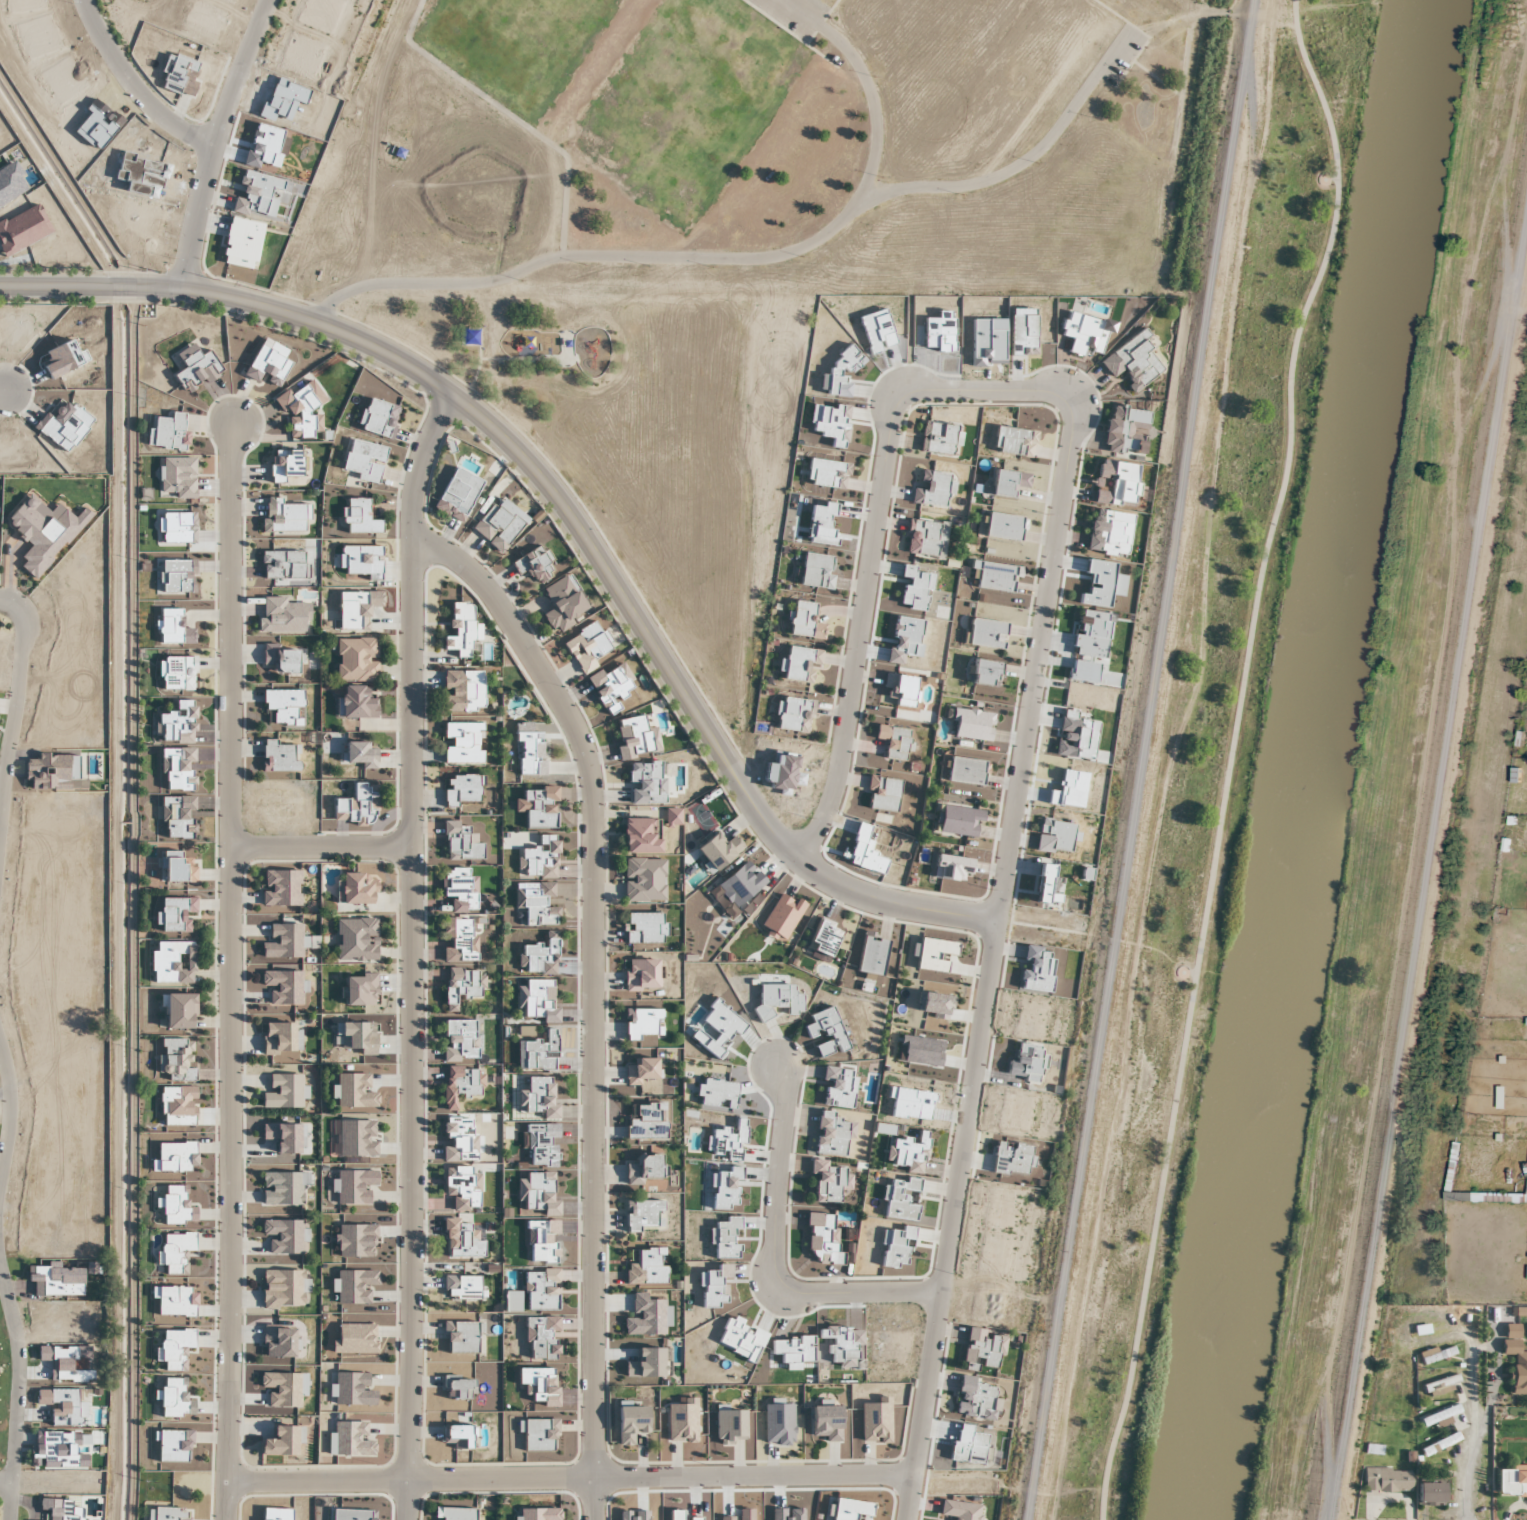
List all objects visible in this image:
parking lot: (1117, 58)
road: (1184, 64)
road: (237, 74)
road: (125, 89)
building: (398, 154)
road: (1021, 162)
road: (188, 218)
park: (733, 240)
road: (705, 257)
building: (469, 337)
road: (975, 388)
road: (3, 389)
road: (565, 506)
building: (562, 604)
road: (857, 632)
building: (587, 648)
building: (356, 660)
building: (462, 692)
road: (15, 702)
building: (357, 704)
building: (463, 743)
road: (1229, 756)
road: (1140, 760)
river: (1313, 760)
building: (462, 790)
building: (641, 837)
road: (322, 847)
road: (1425, 873)
building: (644, 881)
building: (355, 890)
road: (128, 903)
building: (644, 929)
building: (355, 940)
road: (411, 954)
road: (992, 955)
building: (173, 963)
road: (233, 971)
building: (640, 976)
road: (591, 991)
building: (178, 1012)
building: (282, 1093)
building: (355, 1093)
building: (1501, 1096)
road: (7, 1112)
building: (1452, 1167)
road: (772, 1256)
building: (1436, 1353)
building: (1515, 1357)
road: (1496, 1364)
building: (1440, 1383)
road: (16, 1398)
road: (1482, 1410)
building: (1439, 1416)
road: (1471, 1429)
building: (1440, 1443)
road: (570, 1474)
building: (1512, 1479)
road: (5, 1483)
building: (1430, 1492)

